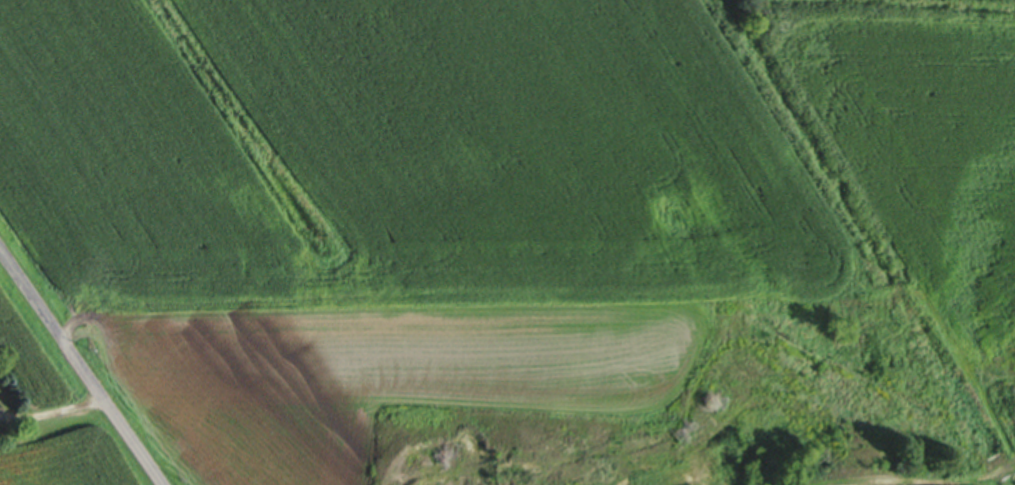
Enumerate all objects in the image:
road: (82, 367)

